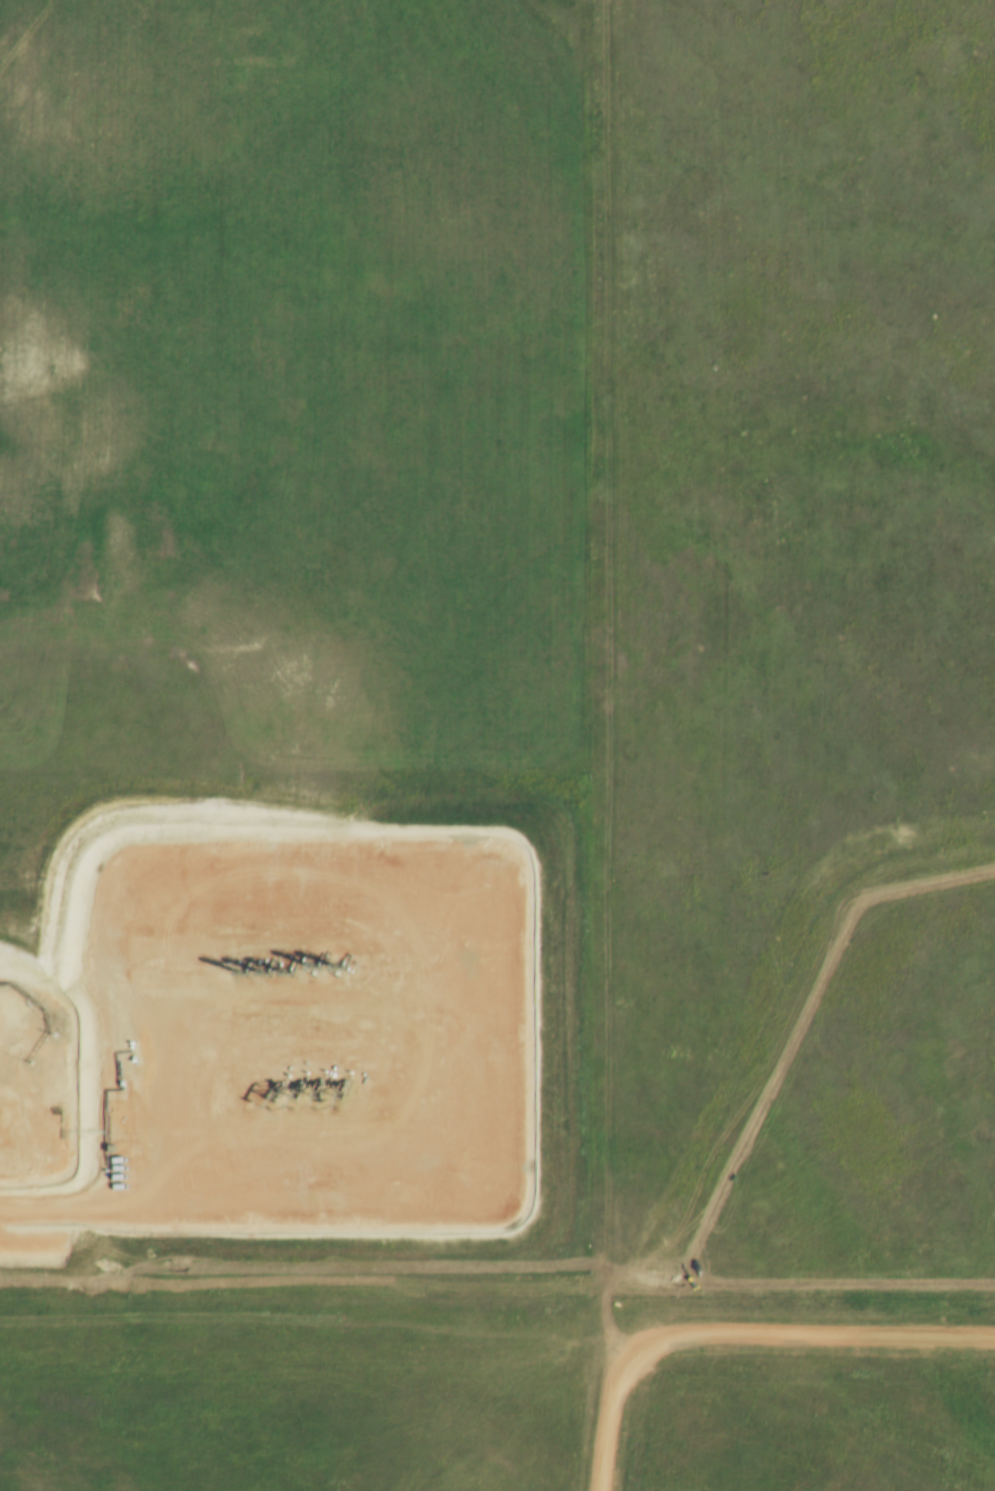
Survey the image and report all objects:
road: (205, 1203)
road: (725, 1313)

